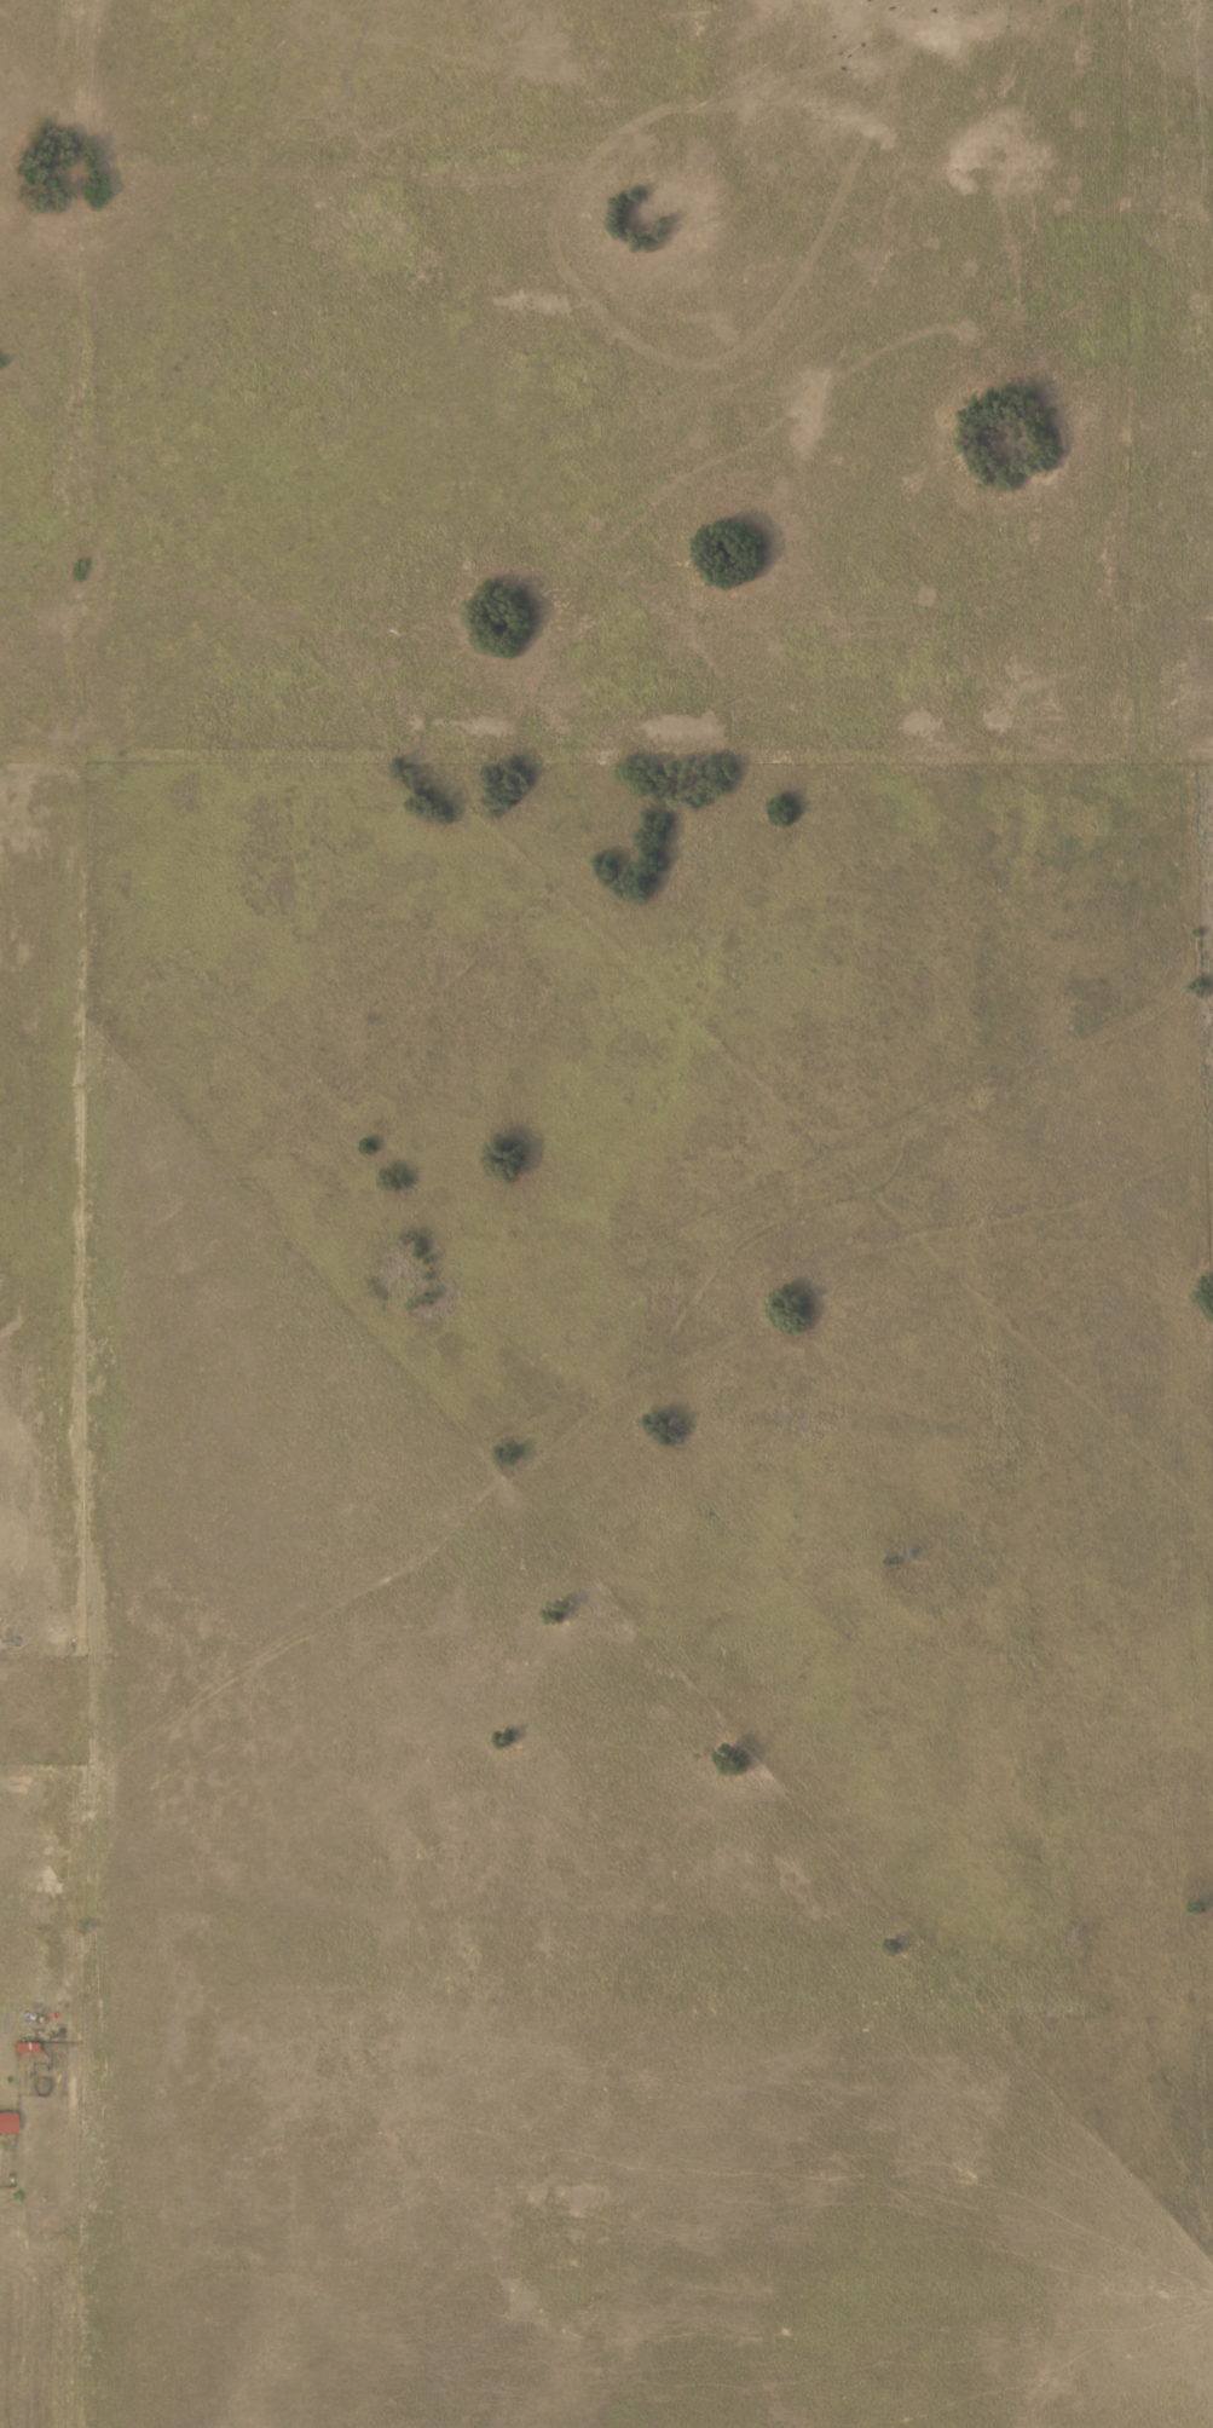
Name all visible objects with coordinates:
building: (7, 2122)

